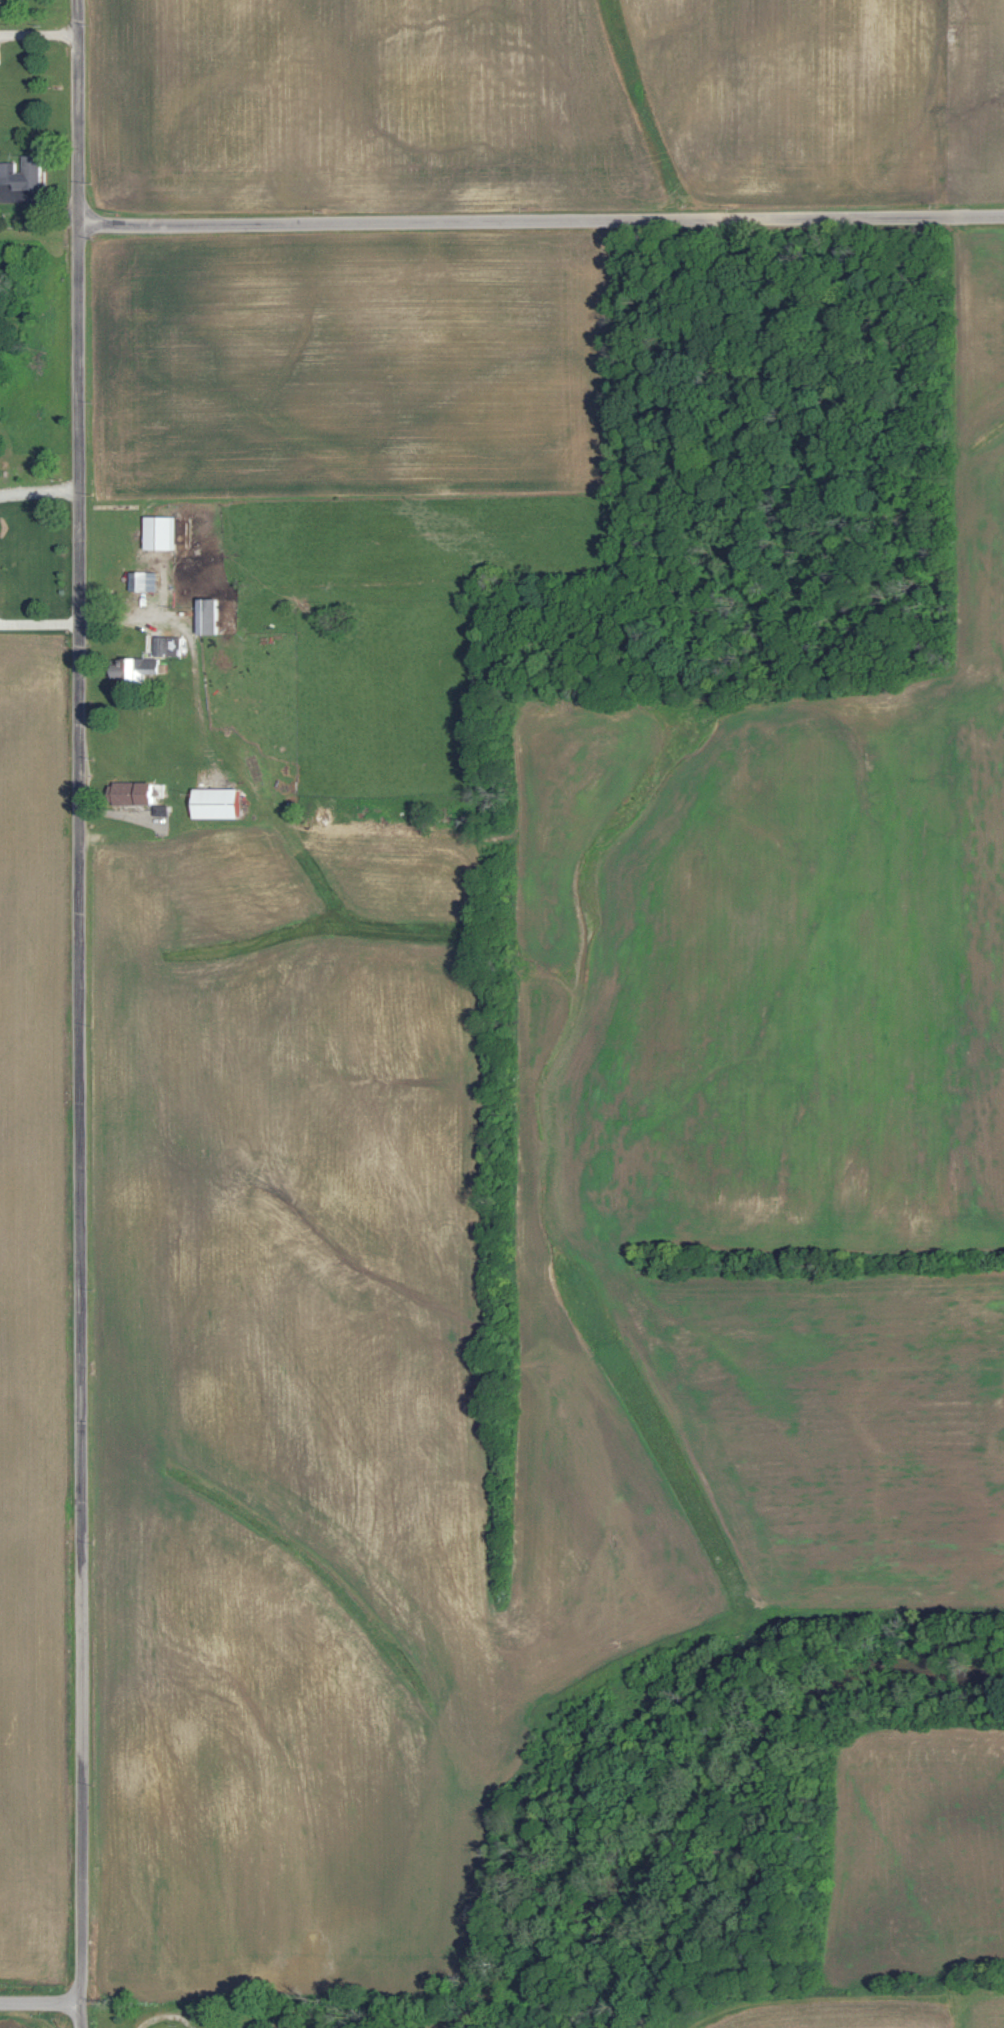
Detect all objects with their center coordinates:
building: (21, 172)
road: (540, 218)
building: (158, 531)
building: (141, 580)
building: (205, 615)
building: (140, 666)
building: (214, 802)
road: (79, 1013)
crop: (33, 1325)
road: (41, 2001)
crop: (34, 2019)

